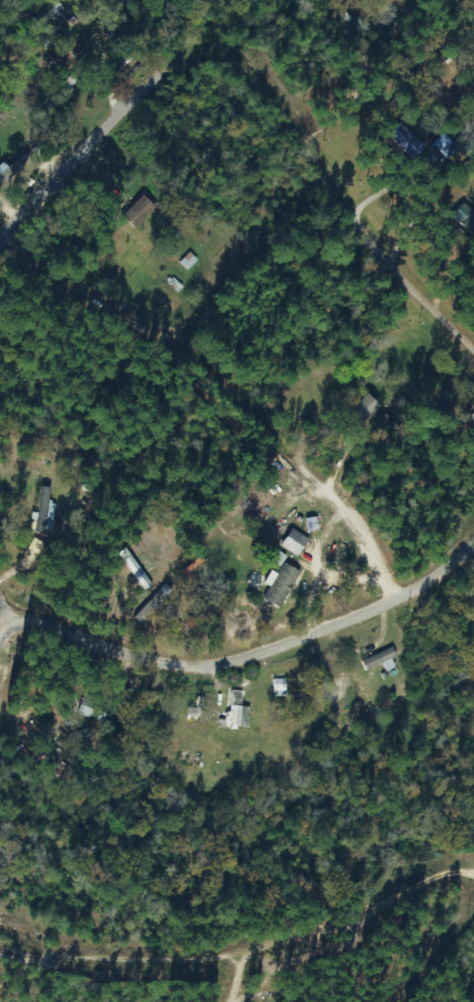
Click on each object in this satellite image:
building: (103, 44)
building: (55, 63)
road: (90, 161)
road: (325, 189)
building: (139, 210)
building: (186, 261)
road: (231, 402)
building: (366, 407)
building: (43, 508)
building: (294, 543)
building: (281, 589)
road: (20, 631)
building: (378, 659)
road: (256, 660)
building: (92, 710)
building: (236, 711)
building: (192, 715)
road: (245, 965)
road: (249, 983)

